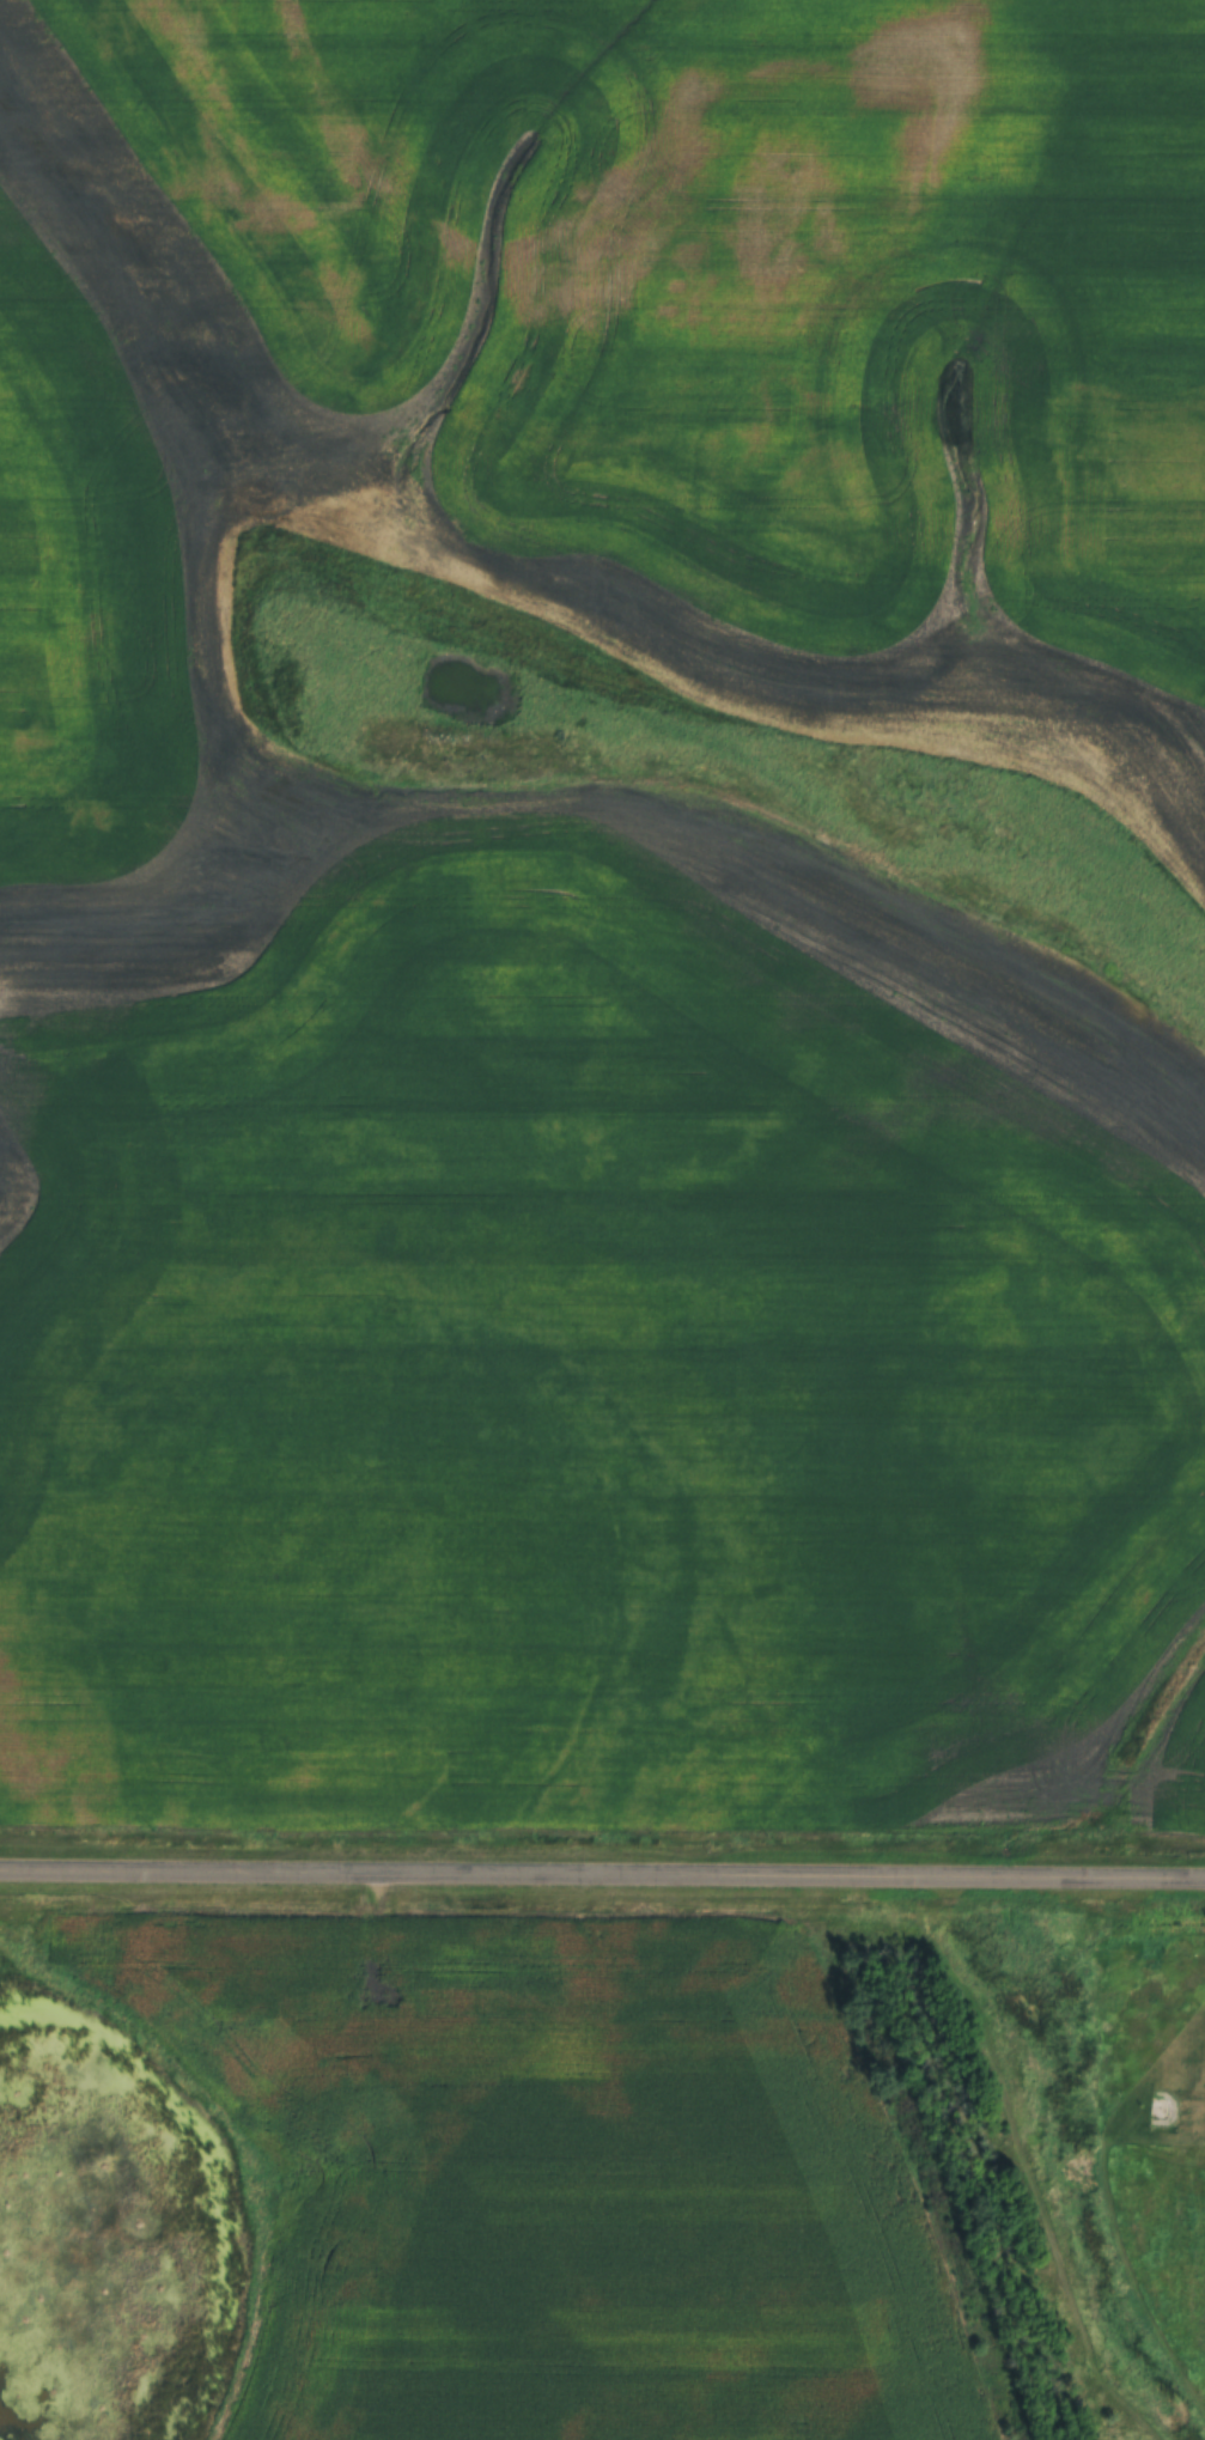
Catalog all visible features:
road: (602, 1879)

